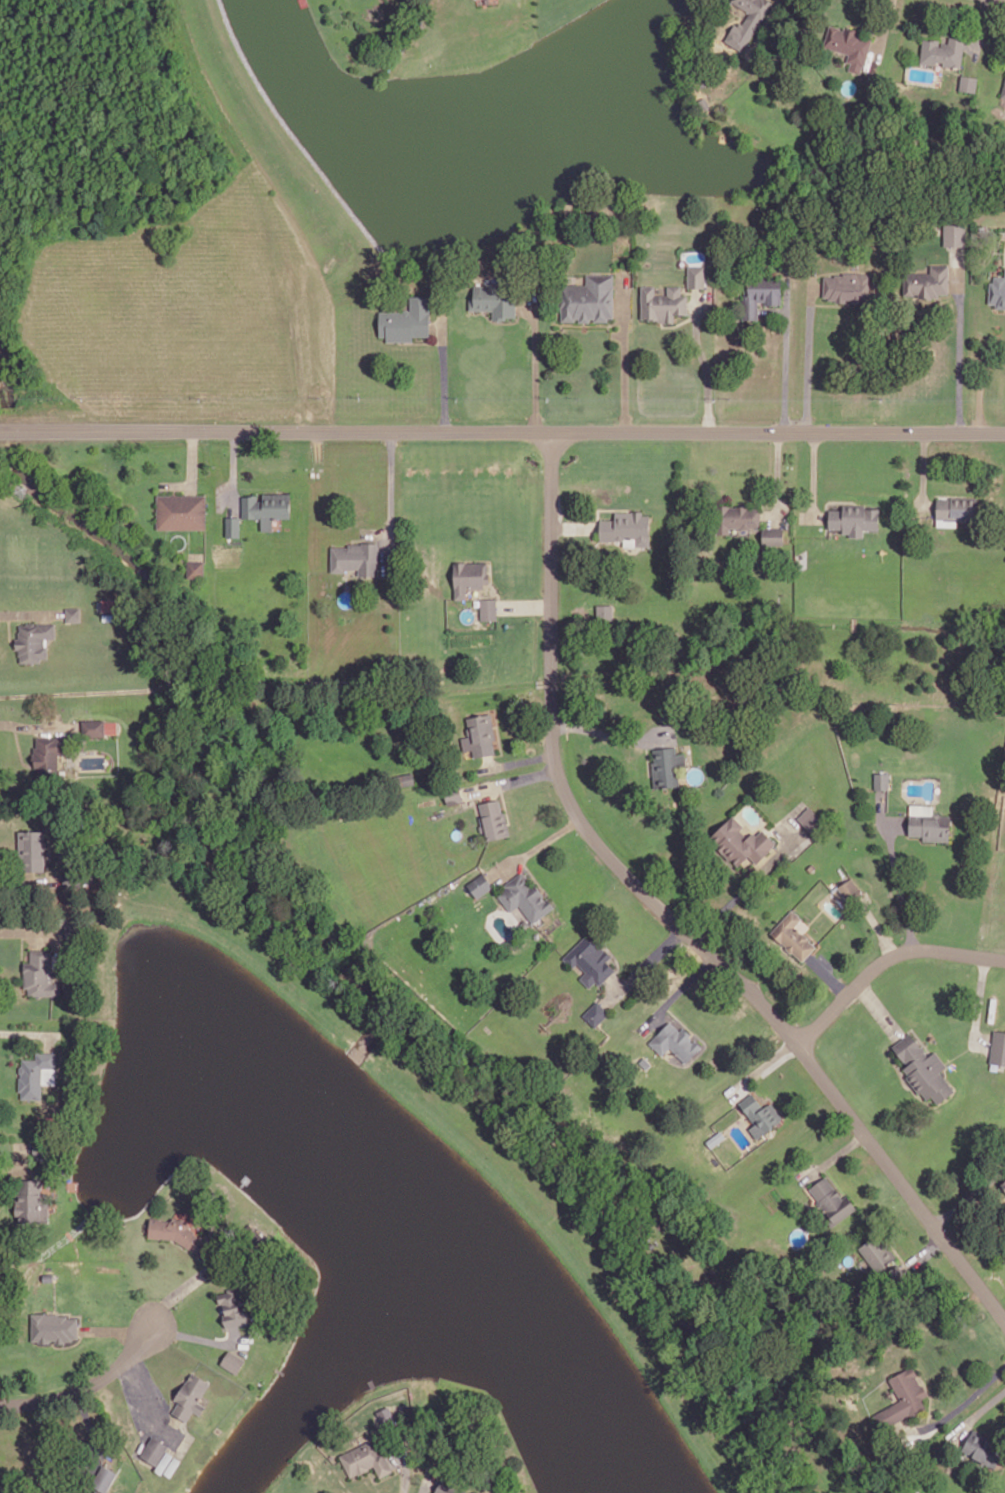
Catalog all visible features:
pier: (304, 2)
building: (747, 21)
road: (883, 28)
road: (981, 28)
building: (848, 43)
building: (942, 51)
road: (60, 65)
building: (968, 82)
building: (1003, 91)
building: (703, 102)
building: (954, 234)
building: (696, 275)
building: (927, 281)
building: (847, 285)
building: (998, 291)
building: (760, 294)
building: (588, 298)
building: (494, 299)
building: (662, 303)
building: (406, 320)
road: (677, 323)
road: (959, 340)
road: (624, 350)
road: (786, 353)
road: (808, 355)
road: (703, 360)
road: (535, 361)
road: (444, 375)
road: (980, 387)
road: (502, 431)
road: (192, 456)
road: (234, 470)
road: (924, 472)
road: (813, 474)
road: (777, 476)
road: (391, 496)
building: (266, 506)
building: (956, 507)
building: (180, 510)
building: (735, 517)
building: (853, 518)
building: (232, 525)
road: (572, 526)
building: (625, 526)
building: (773, 534)
building: (356, 557)
building: (196, 568)
building: (469, 576)
road: (526, 606)
building: (488, 608)
building: (604, 611)
road: (31, 613)
building: (73, 613)
road: (8, 629)
building: (35, 639)
road: (38, 726)
building: (97, 726)
flagpole: (18, 732)
building: (481, 733)
road: (612, 734)
road: (500, 744)
road: (19, 747)
building: (47, 753)
road: (489, 760)
road: (517, 761)
building: (667, 765)
building: (404, 779)
road: (510, 780)
building: (881, 780)
building: (452, 792)
road: (504, 803)
building: (807, 815)
building: (492, 820)
building: (929, 825)
building: (741, 840)
road: (535, 846)
building: (32, 849)
building: (811, 867)
building: (72, 877)
road: (29, 882)
building: (480, 884)
road: (749, 884)
road: (899, 884)
building: (848, 887)
building: (524, 896)
road: (668, 916)
building: (524, 922)
road: (877, 926)
road: (25, 931)
building: (793, 935)
flagpole: (26, 941)
road: (793, 957)
road: (885, 958)
building: (589, 959)
road: (644, 965)
building: (39, 973)
road: (827, 974)
road: (677, 992)
road: (978, 1004)
road: (878, 1008)
building: (595, 1012)
road: (681, 1019)
road: (29, 1031)
building: (675, 1040)
building: (998, 1046)
building: (645, 1061)
road: (761, 1066)
building: (923, 1068)
building: (34, 1071)
building: (760, 1113)
road: (837, 1153)
road: (19, 1164)
pier: (245, 1179)
building: (1003, 1182)
pier: (73, 1184)
road: (968, 1197)
building: (832, 1200)
building: (30, 1202)
building: (177, 1232)
building: (878, 1250)
road: (919, 1256)
building: (896, 1272)
building: (48, 1276)
road: (54, 1294)
road: (175, 1294)
building: (233, 1306)
road: (73, 1314)
building: (52, 1327)
road: (111, 1329)
road: (197, 1337)
road: (69, 1344)
building: (232, 1360)
road: (87, 1387)
road: (141, 1394)
building: (189, 1394)
building: (906, 1396)
road: (930, 1399)
road: (960, 1405)
road: (977, 1413)
road: (92, 1432)
building: (983, 1447)
building: (153, 1449)
building: (363, 1459)
building: (163, 1461)
building: (172, 1465)
road: (406, 1472)
building: (102, 1477)
road: (383, 1477)
road: (427, 1479)
building: (445, 1488)
building: (82, 1491)
building: (96, 1491)
building: (474, 1492)

